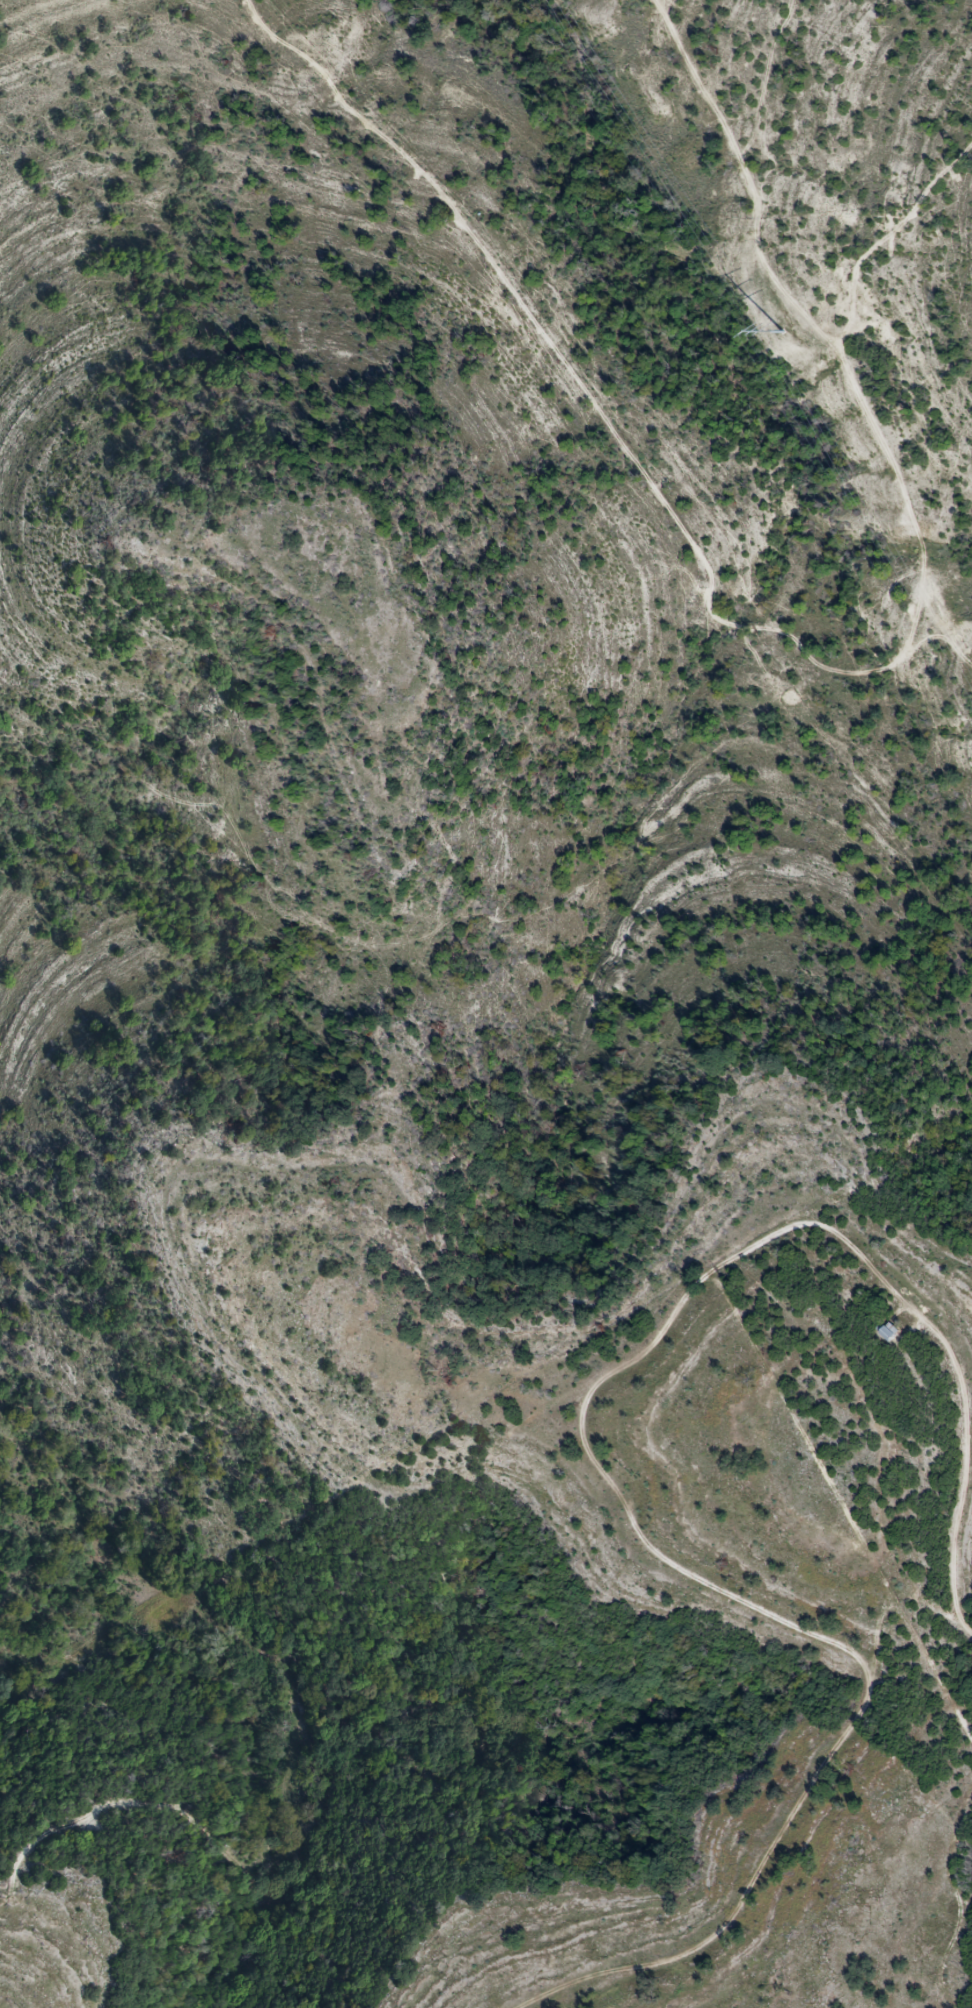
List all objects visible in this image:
power tower: (783, 330)
building: (889, 1331)

